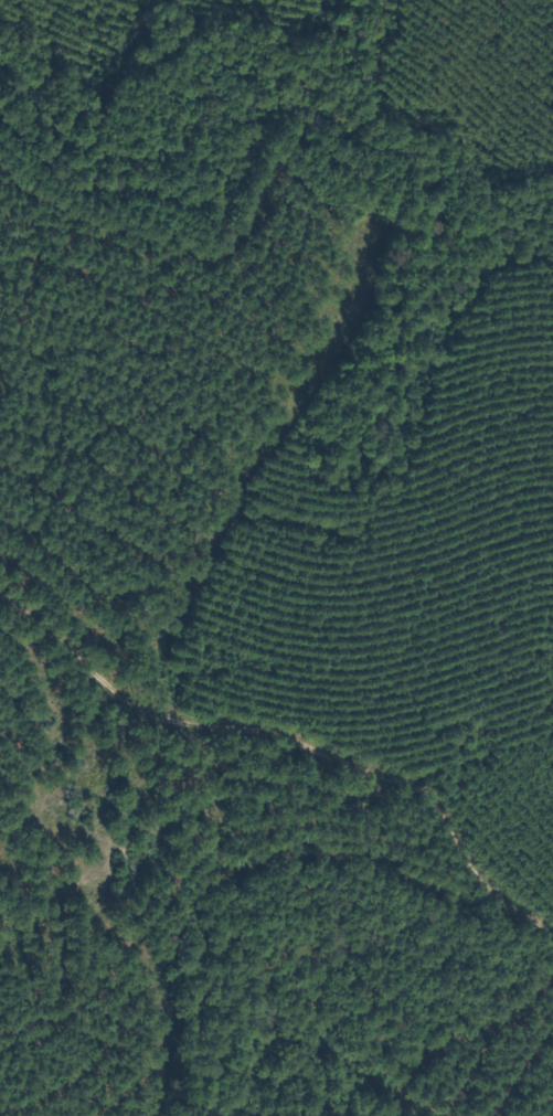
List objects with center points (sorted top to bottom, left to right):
road: (298, 794)

